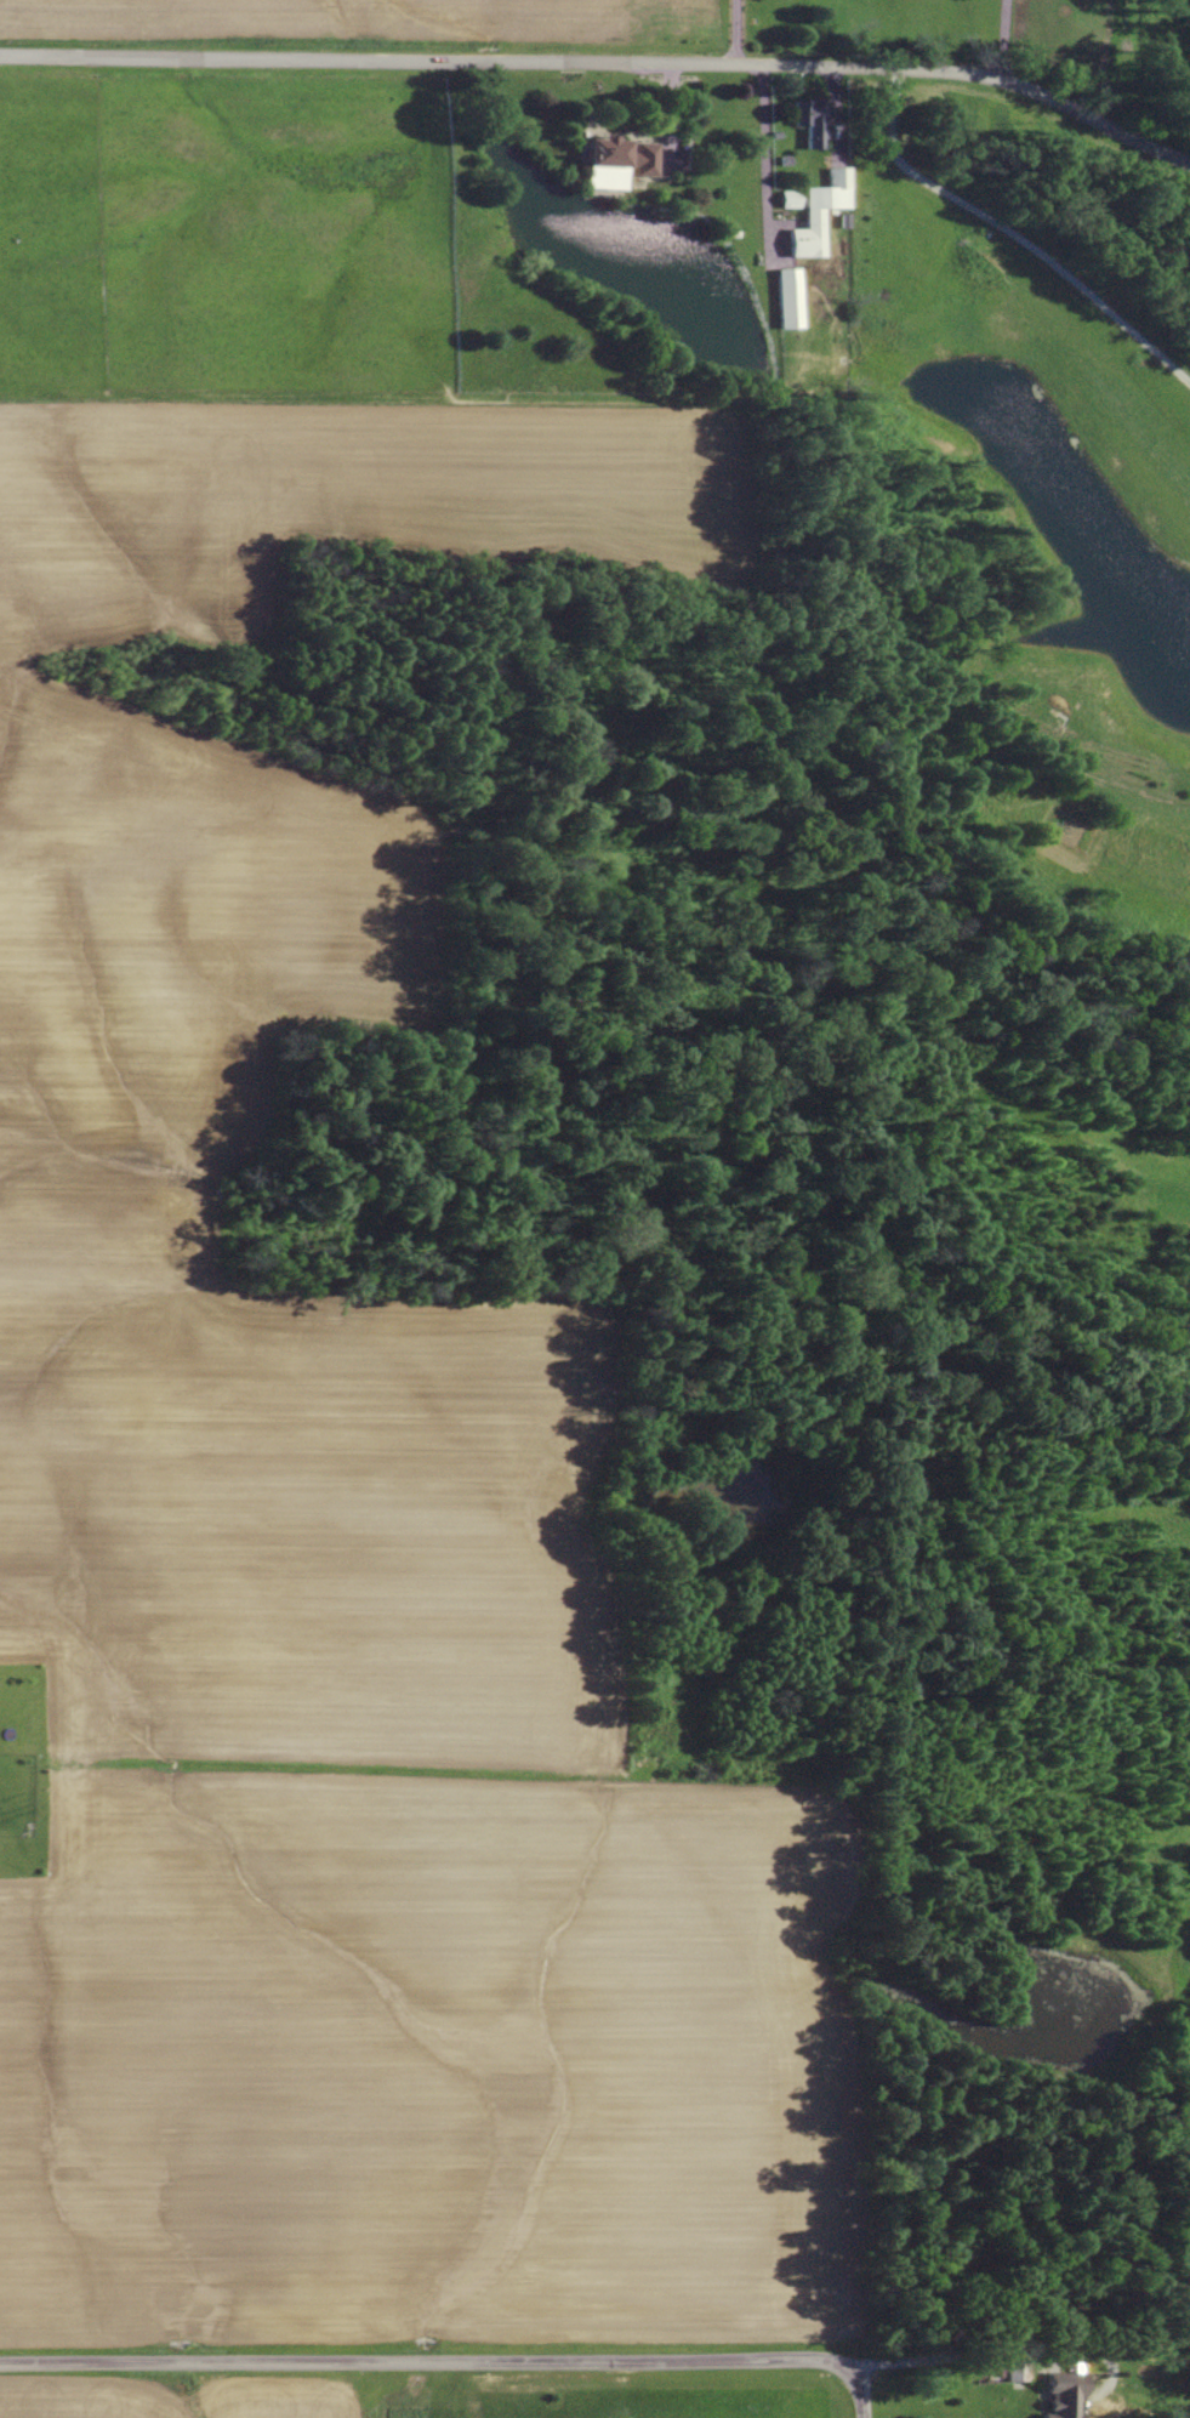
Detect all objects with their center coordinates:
road: (736, 38)
road: (1002, 45)
road: (603, 73)
road: (671, 126)
building: (808, 133)
building: (608, 161)
road: (764, 167)
building: (644, 169)
building: (790, 207)
building: (819, 222)
road: (1012, 246)
building: (787, 306)
petroleum well: (1058, 735)
building: (1173, 849)
road: (1138, 1501)
road: (1184, 1847)
road: (1048, 1867)
road: (967, 2359)
road: (449, 2362)
building: (1064, 2400)

